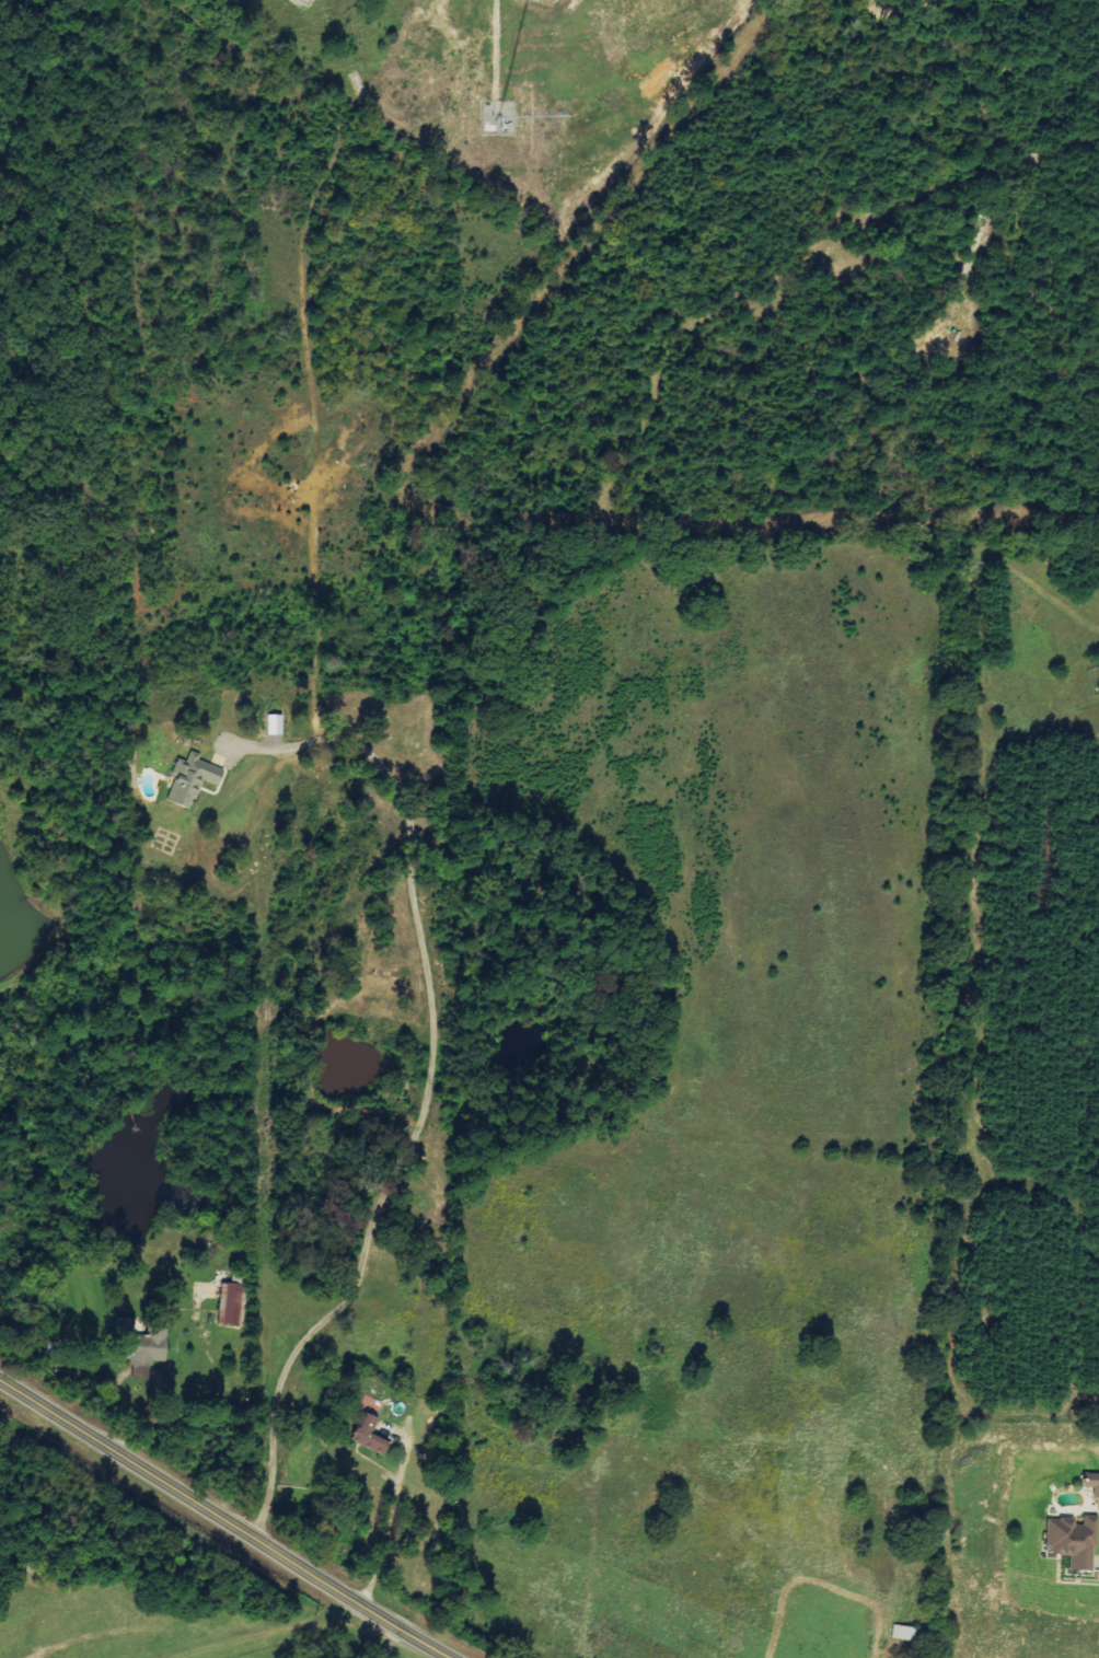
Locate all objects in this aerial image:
building: (275, 723)
building: (192, 779)
road: (428, 1088)
building: (230, 1303)
building: (142, 1360)
building: (370, 1435)
building: (1092, 1485)
road: (227, 1515)
building: (1073, 1540)

